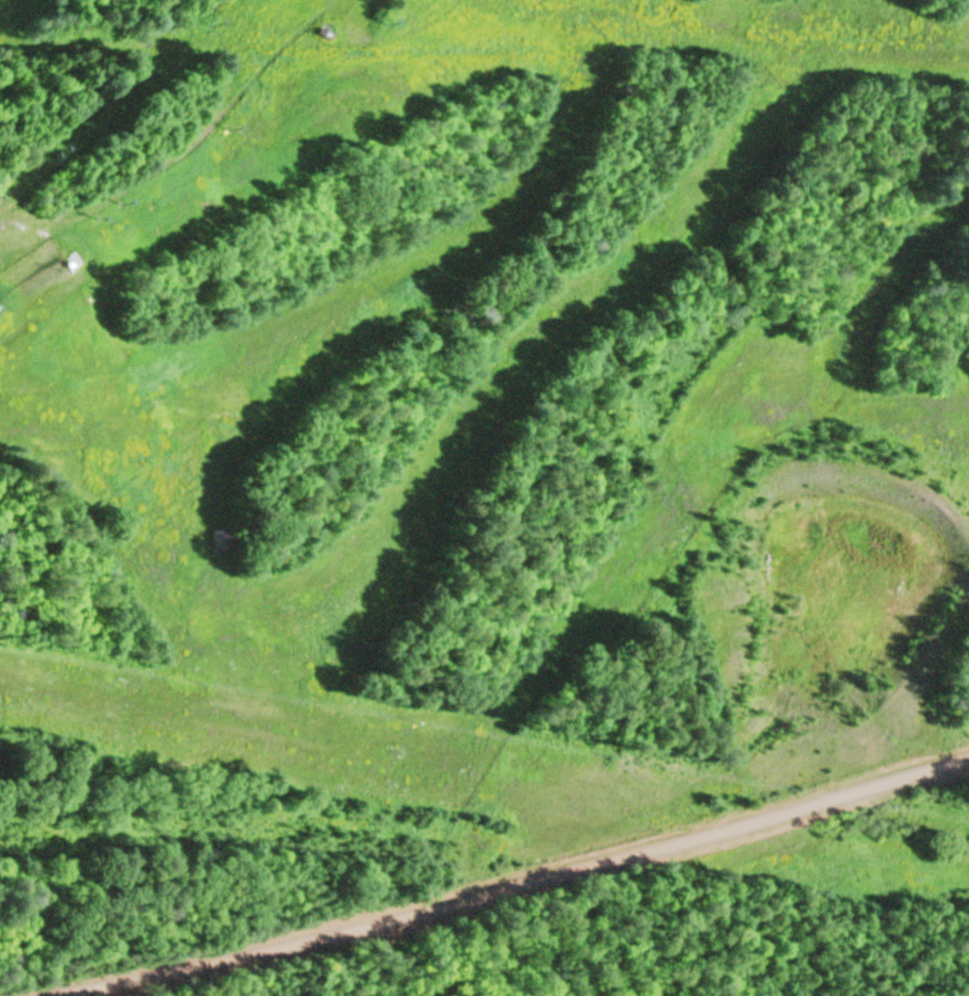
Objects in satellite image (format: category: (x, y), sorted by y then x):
ski resort: (509, 441)
building: (216, 538)
road: (503, 884)

